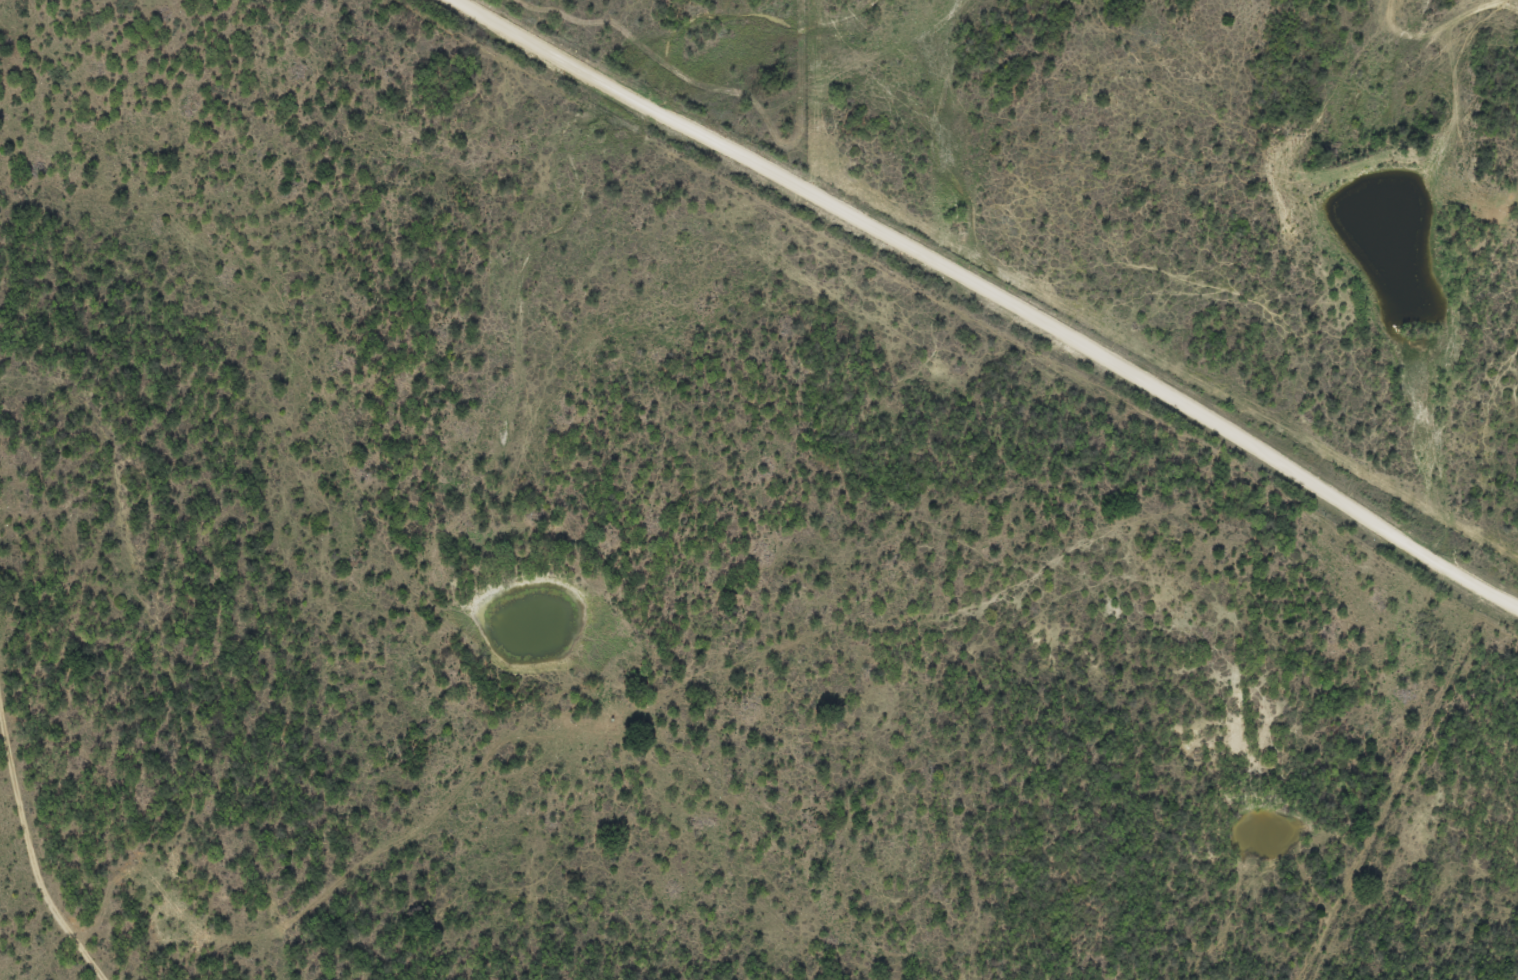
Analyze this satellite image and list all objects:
road: (980, 295)
road: (29, 865)

